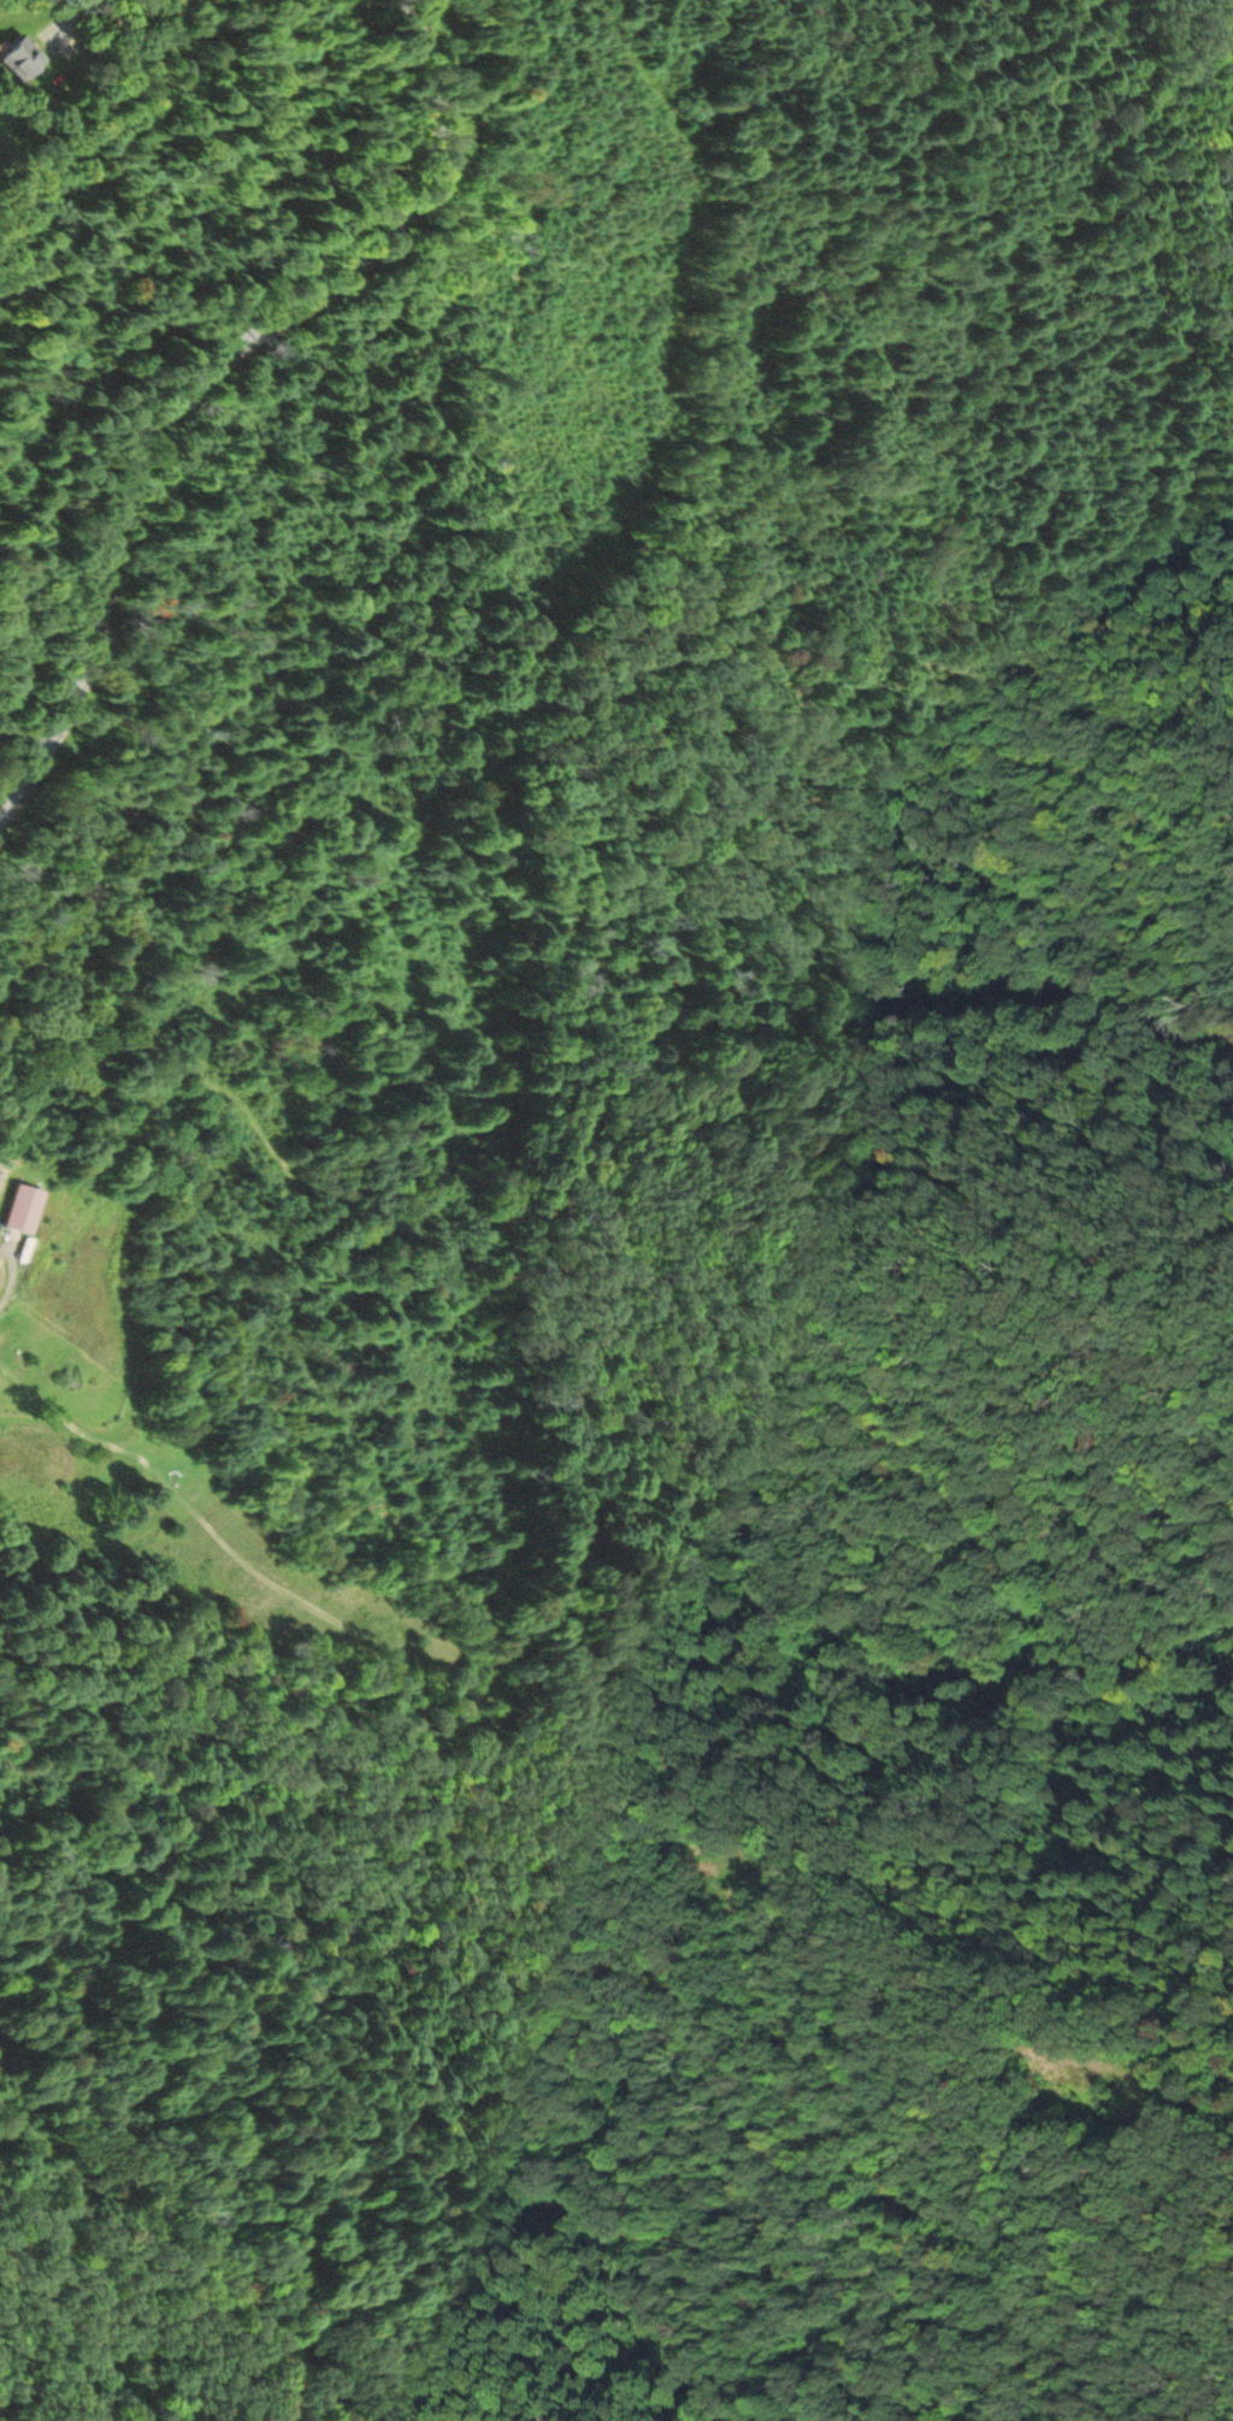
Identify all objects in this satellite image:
building: (20, 59)
road: (183, 377)
building: (22, 1207)

